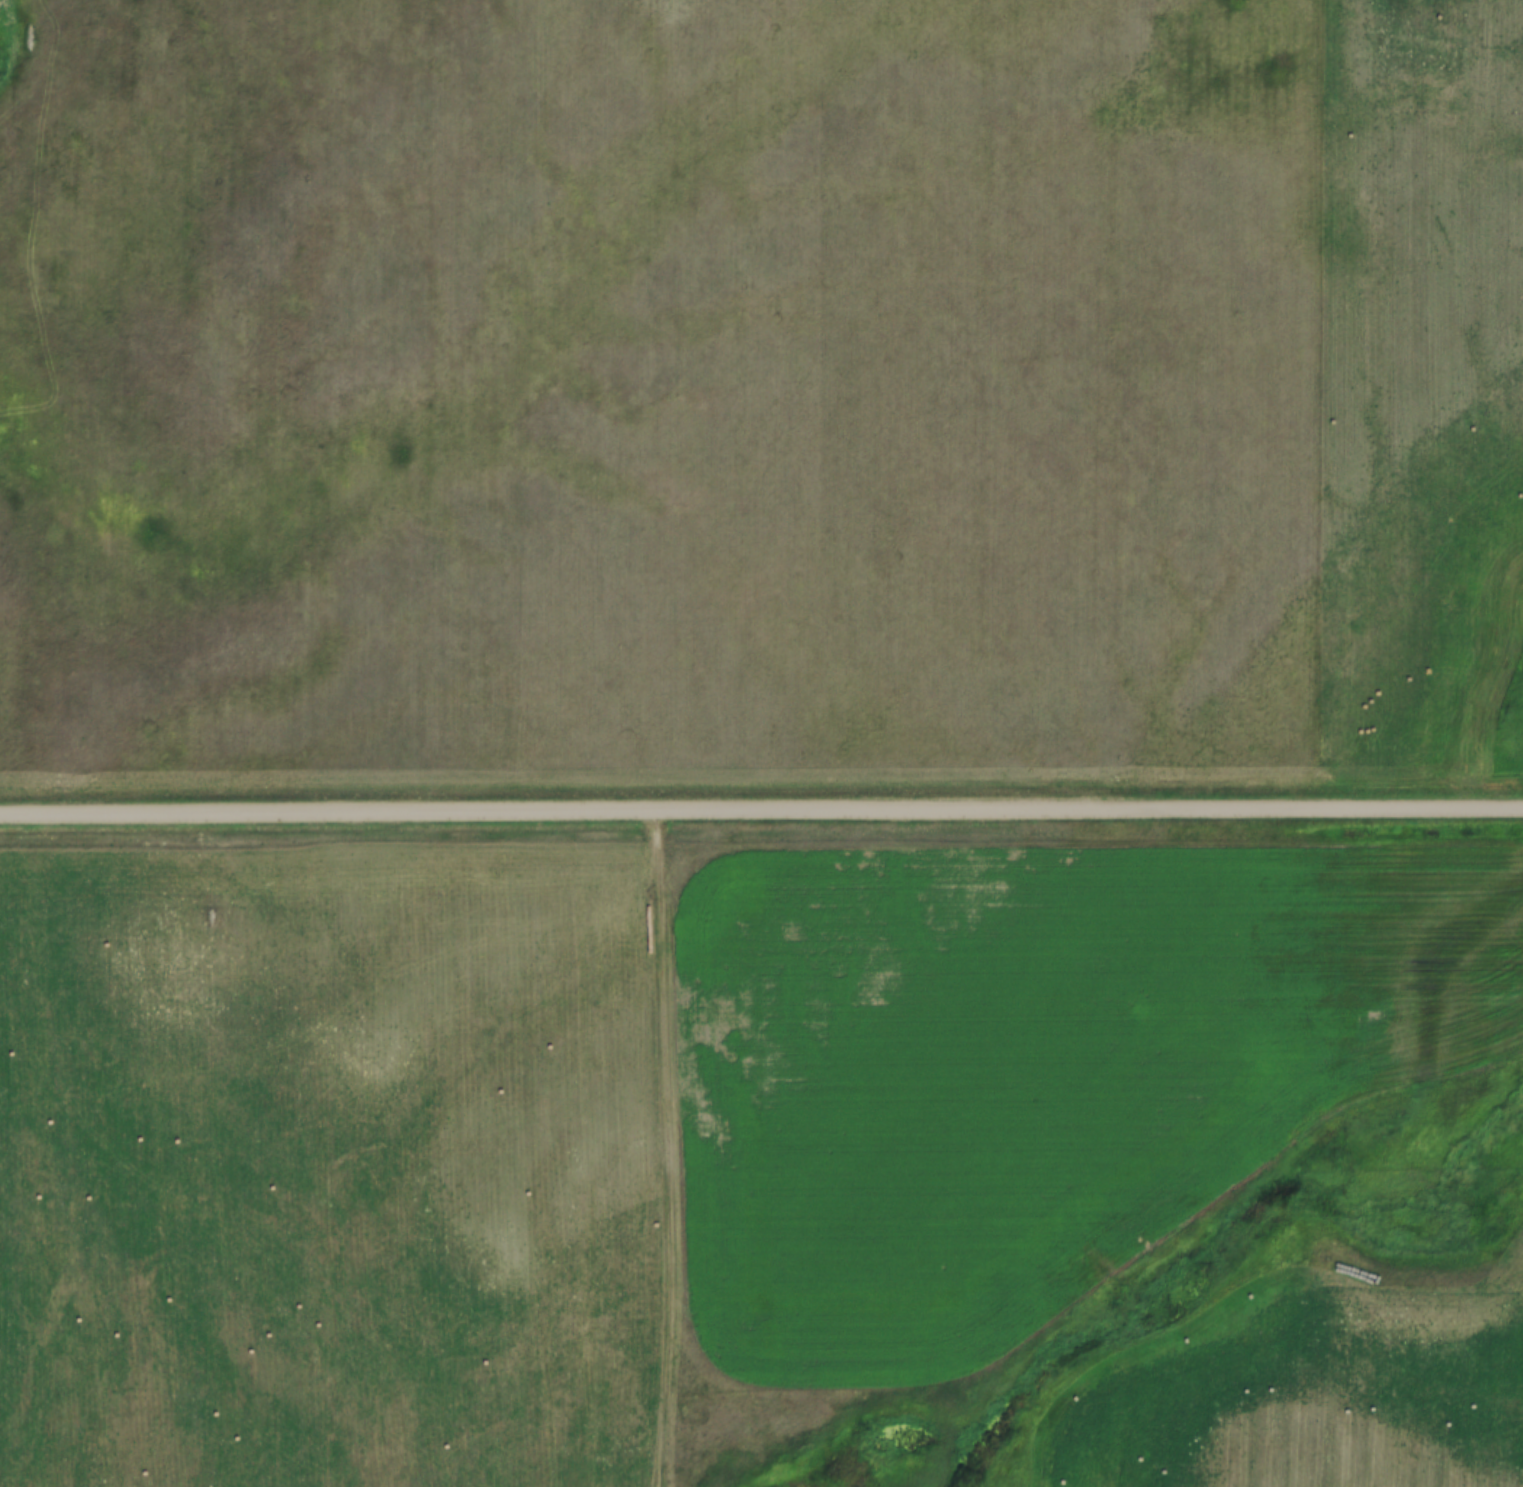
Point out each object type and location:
road: (761, 809)
road: (667, 1148)

